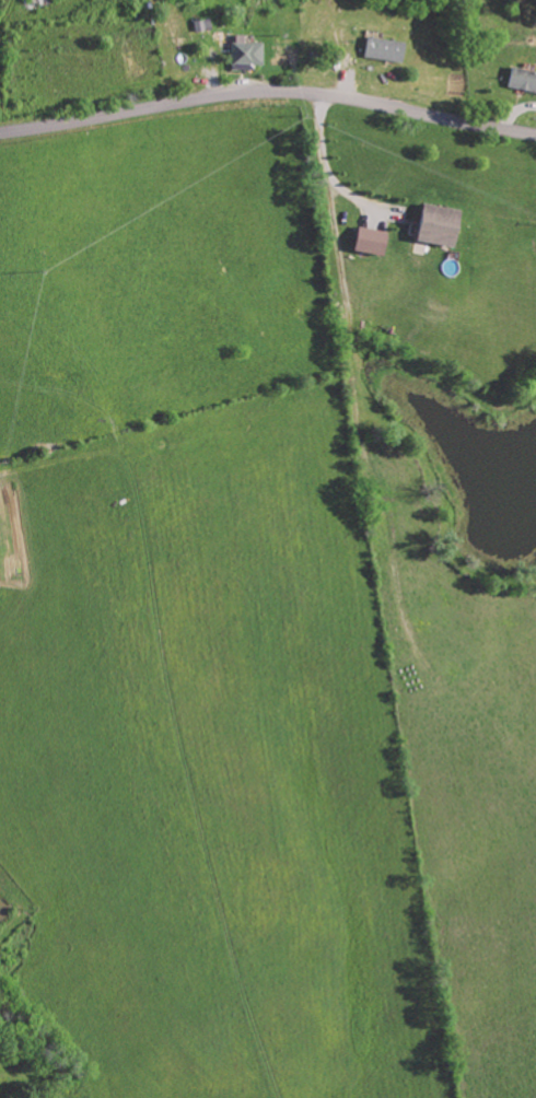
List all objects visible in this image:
building: (381, 50)
building: (243, 55)
building: (521, 82)
road: (268, 92)
building: (432, 226)
building: (365, 243)

